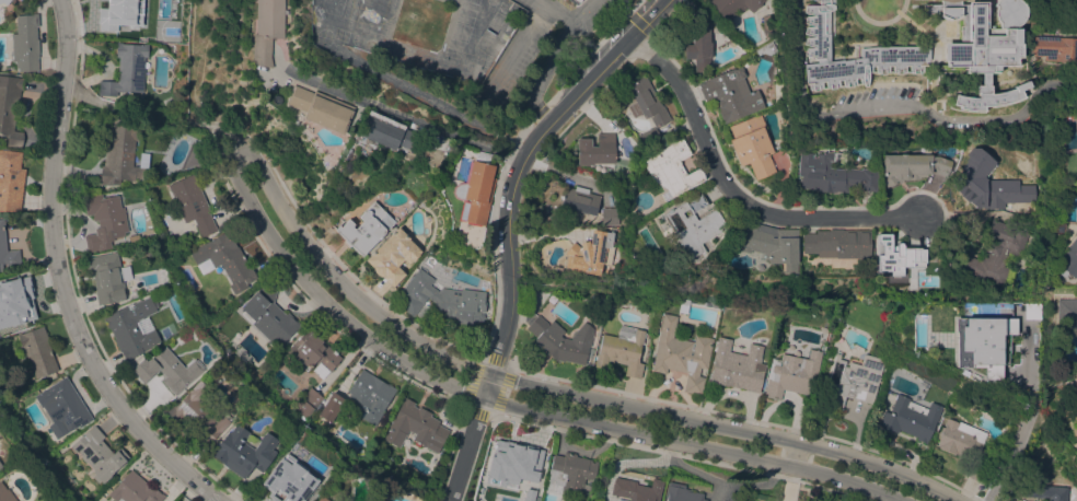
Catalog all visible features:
building: (11, 0)
building: (574, 0)
building: (577, 0)
building: (934, 0)
building: (4, 1)
building: (733, 5)
road: (582, 8)
building: (114, 16)
road: (649, 18)
building: (767, 25)
building: (267, 30)
building: (25, 42)
building: (697, 44)
building: (818, 45)
building: (983, 46)
building: (1054, 47)
building: (767, 48)
building: (126, 70)
road: (546, 70)
building: (777, 91)
road: (577, 93)
building: (730, 94)
building: (624, 95)
road: (433, 102)
building: (645, 102)
road: (893, 106)
building: (10, 108)
building: (321, 108)
road: (406, 116)
building: (386, 133)
building: (649, 136)
building: (752, 144)
building: (595, 149)
building: (121, 152)
building: (197, 153)
building: (912, 166)
building: (671, 167)
building: (832, 174)
building: (10, 179)
building: (988, 184)
building: (475, 189)
road: (733, 194)
building: (579, 200)
building: (192, 203)
building: (609, 215)
building: (104, 220)
building: (692, 224)
building: (1059, 224)
building: (366, 228)
building: (837, 243)
building: (771, 244)
building: (7, 250)
building: (148, 252)
building: (588, 253)
building: (994, 254)
building: (895, 255)
building: (392, 256)
building: (223, 259)
building: (1068, 259)
road: (58, 276)
building: (106, 277)
building: (941, 281)
building: (441, 299)
building: (15, 305)
building: (1066, 311)
building: (268, 316)
building: (132, 326)
road: (505, 329)
building: (189, 334)
building: (981, 341)
building: (557, 342)
building: (622, 349)
building: (37, 351)
building: (313, 353)
building: (682, 353)
building: (737, 365)
building: (167, 370)
building: (223, 370)
building: (792, 374)
building: (853, 380)
building: (1075, 387)
building: (370, 394)
road: (540, 399)
building: (308, 403)
building: (62, 406)
building: (331, 406)
building: (198, 413)
building: (910, 417)
road: (1018, 424)
building: (415, 427)
building: (961, 439)
building: (243, 452)
building: (99, 454)
building: (518, 462)
building: (0, 465)
building: (0, 467)
building: (571, 471)
building: (319, 473)
building: (976, 473)
building: (281, 485)
building: (134, 489)
building: (636, 489)
building: (1045, 491)
building: (5, 493)
building: (681, 493)
building: (319, 499)
building: (322, 499)
building: (721, 500)

